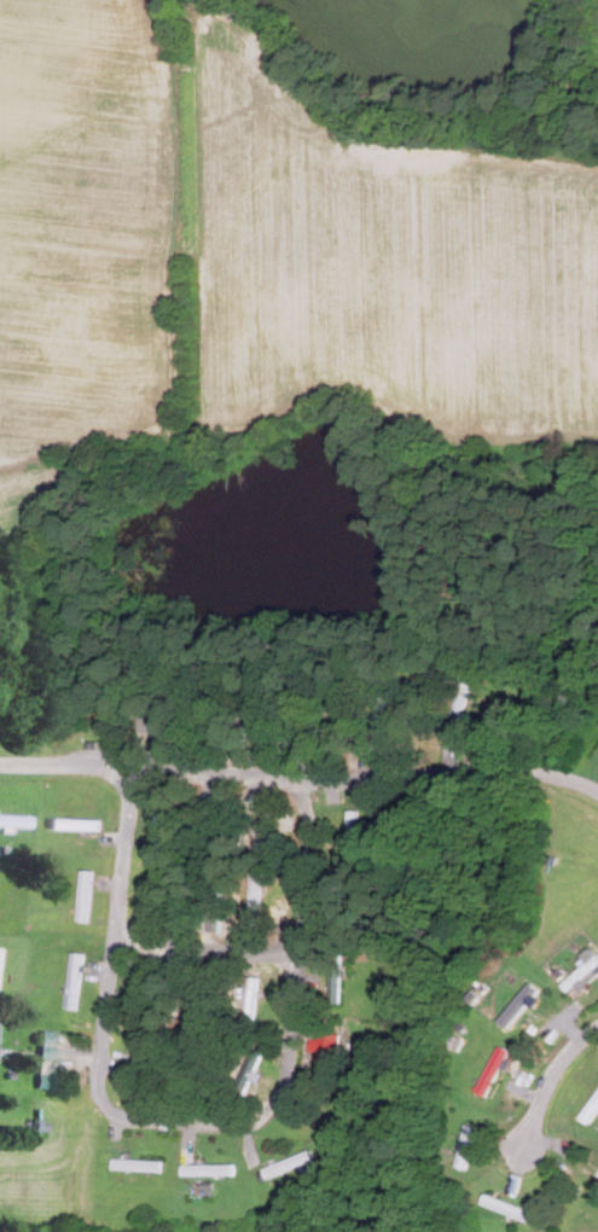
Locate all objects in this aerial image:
road: (301, 778)
building: (5, 819)
road: (208, 949)
building: (515, 1010)
building: (332, 1047)
building: (46, 1058)
building: (494, 1070)
road: (551, 1085)
road: (186, 1122)

